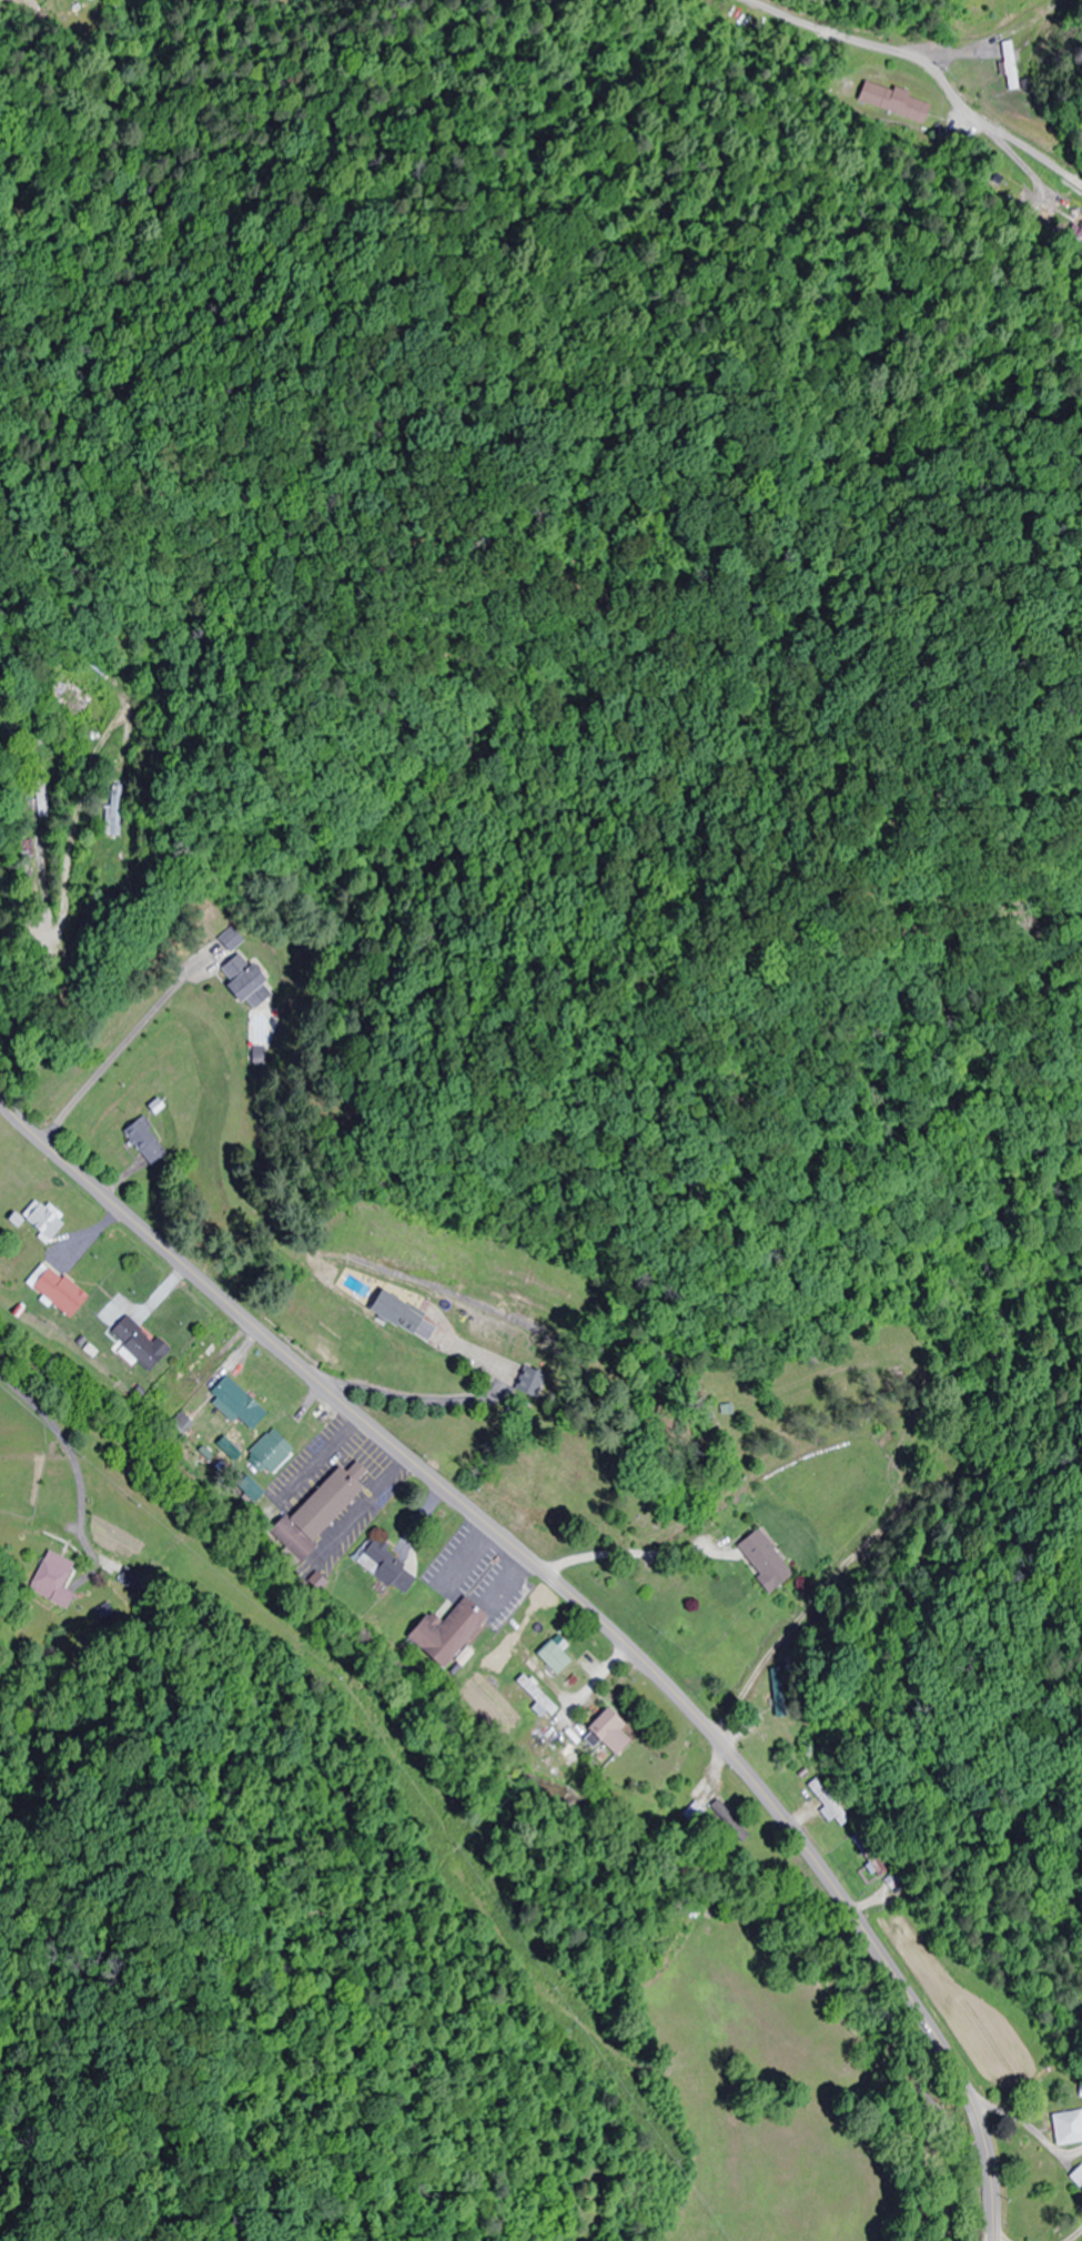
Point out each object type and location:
building: (817, 2)
building: (1008, 65)
road: (929, 67)
building: (894, 102)
building: (68, 699)
road: (242, 763)
building: (108, 814)
building: (230, 940)
building: (241, 981)
road: (227, 1117)
building: (144, 1140)
building: (39, 1219)
building: (52, 1290)
building: (392, 1318)
building: (134, 1342)
building: (194, 1354)
building: (221, 1391)
building: (230, 1441)
building: (265, 1453)
building: (249, 1493)
building: (312, 1514)
building: (760, 1562)
building: (383, 1569)
building: (51, 1581)
road: (582, 1605)
building: (517, 1628)
building: (441, 1633)
building: (560, 1668)
building: (535, 1698)
building: (605, 1734)
building: (692, 1814)
building: (876, 1867)
building: (1065, 2128)

